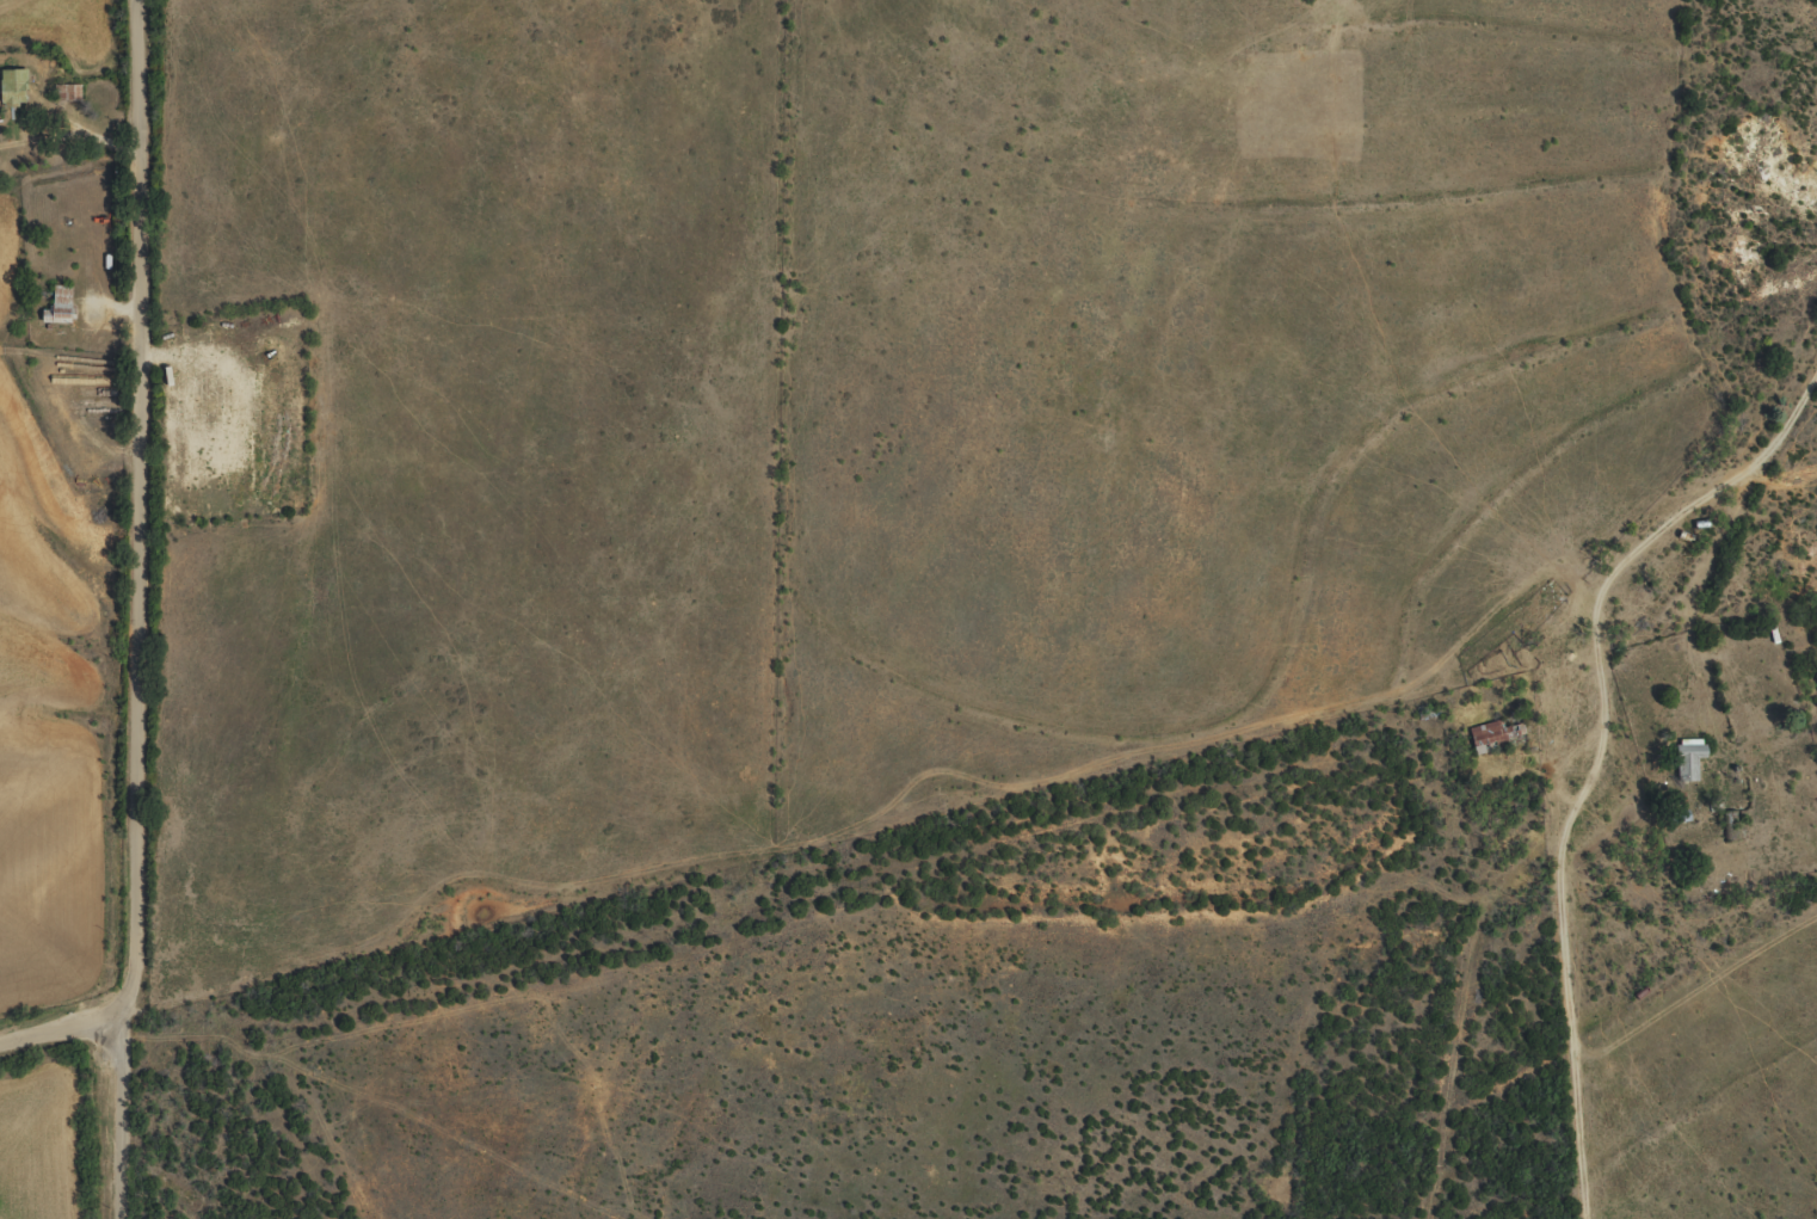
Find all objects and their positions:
building: (58, 312)
road: (143, 610)
road: (1602, 731)
building: (1485, 744)
building: (1687, 769)
road: (66, 1026)

